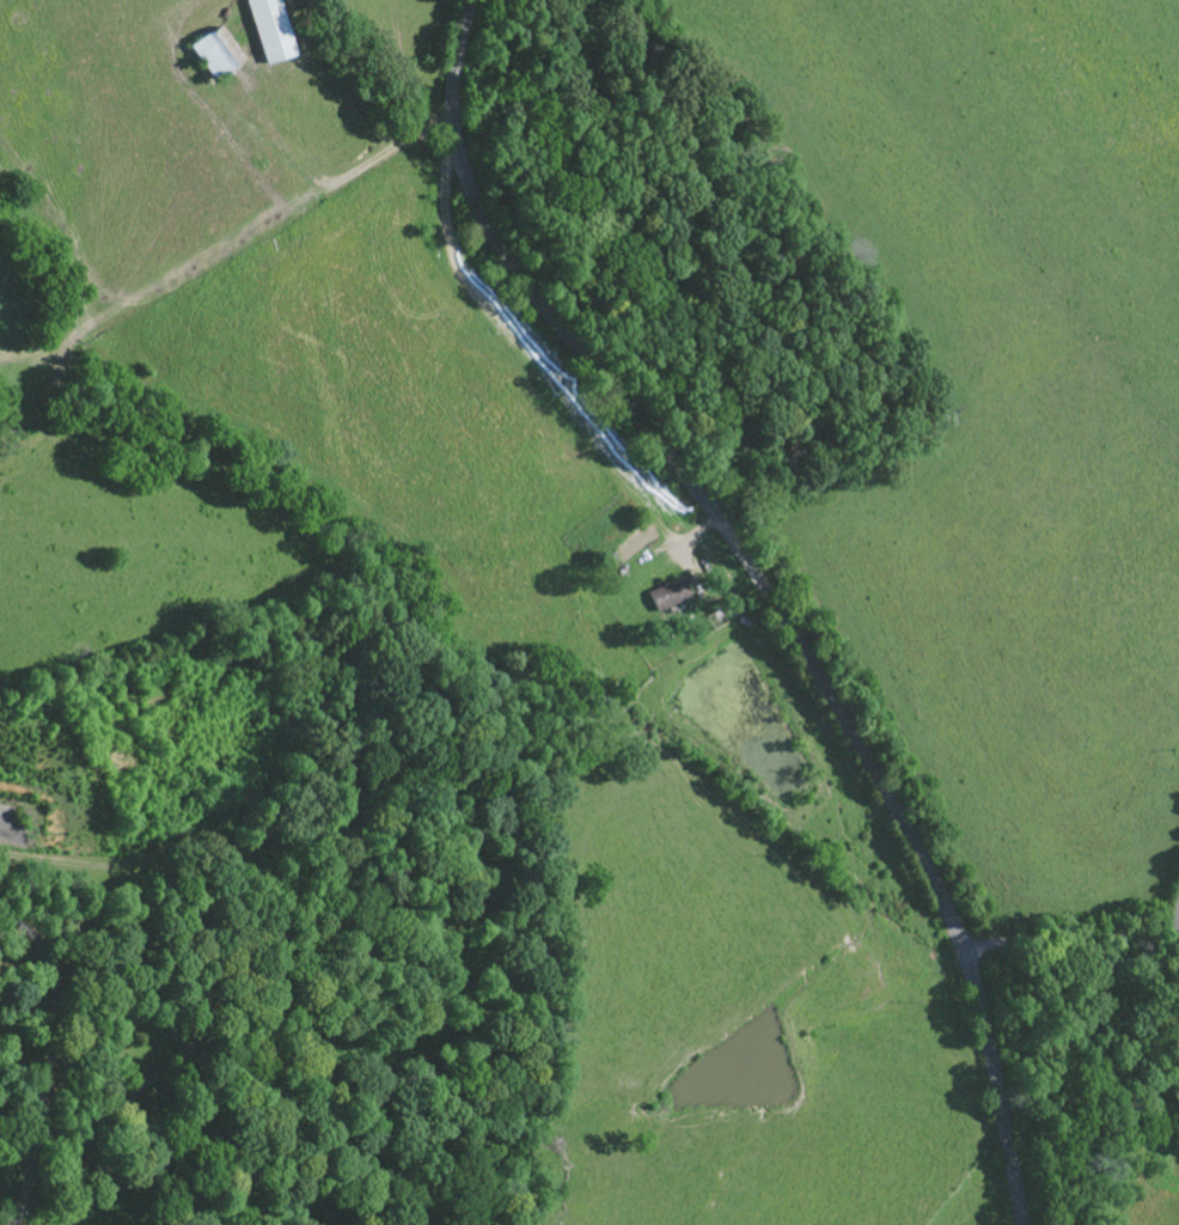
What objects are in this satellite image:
building: (271, 31)
building: (218, 55)
road: (768, 590)
building: (670, 597)
park: (275, 915)
road: (1088, 943)

